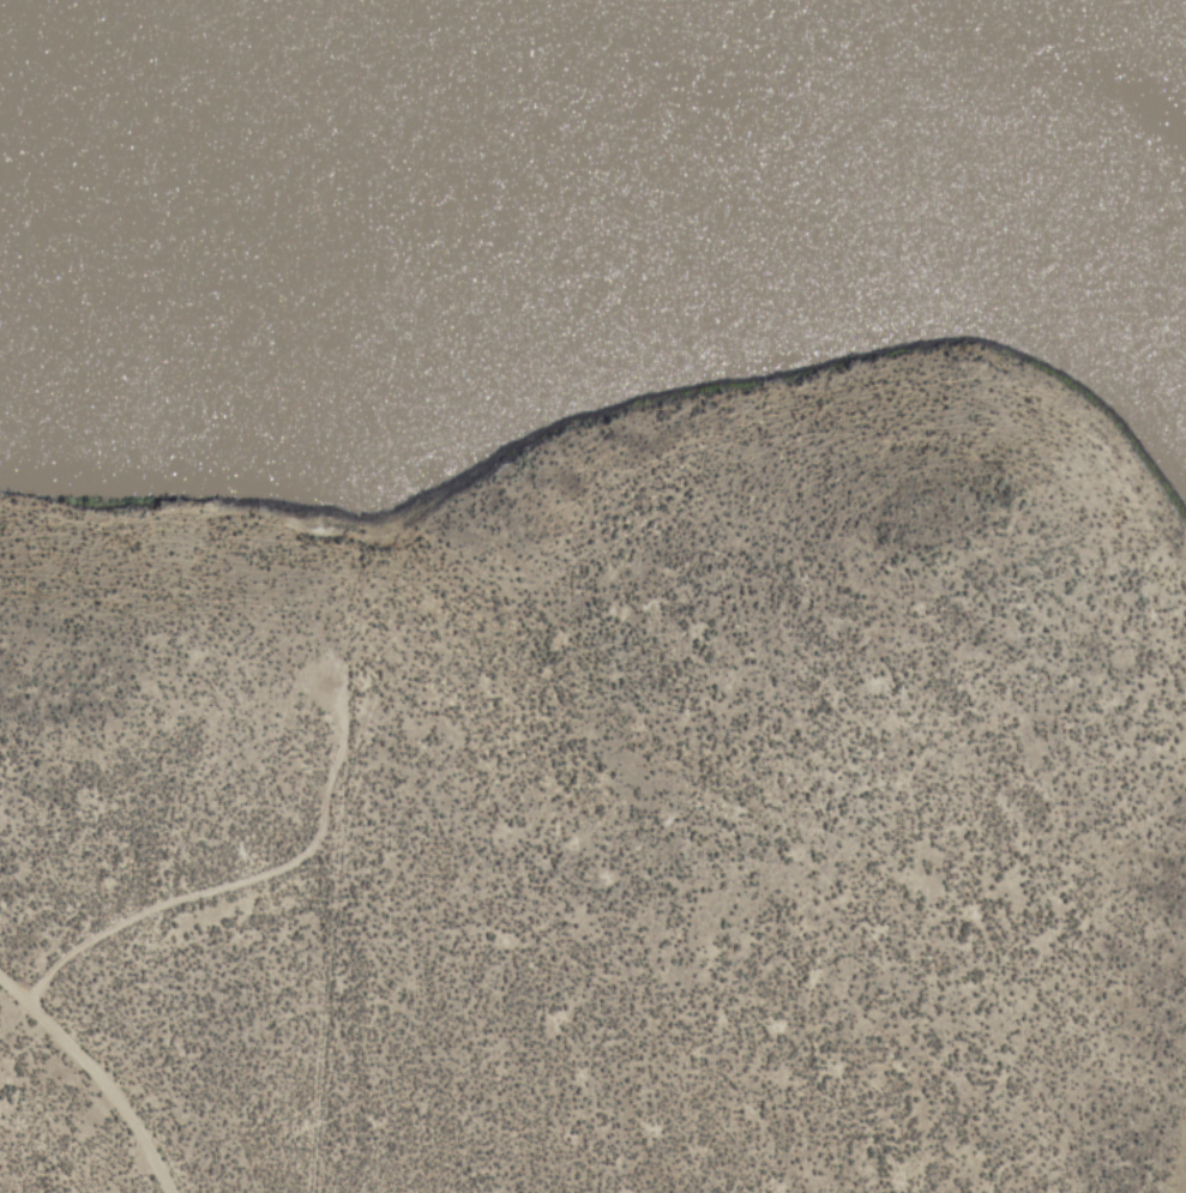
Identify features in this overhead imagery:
road: (236, 878)
road: (94, 1077)

